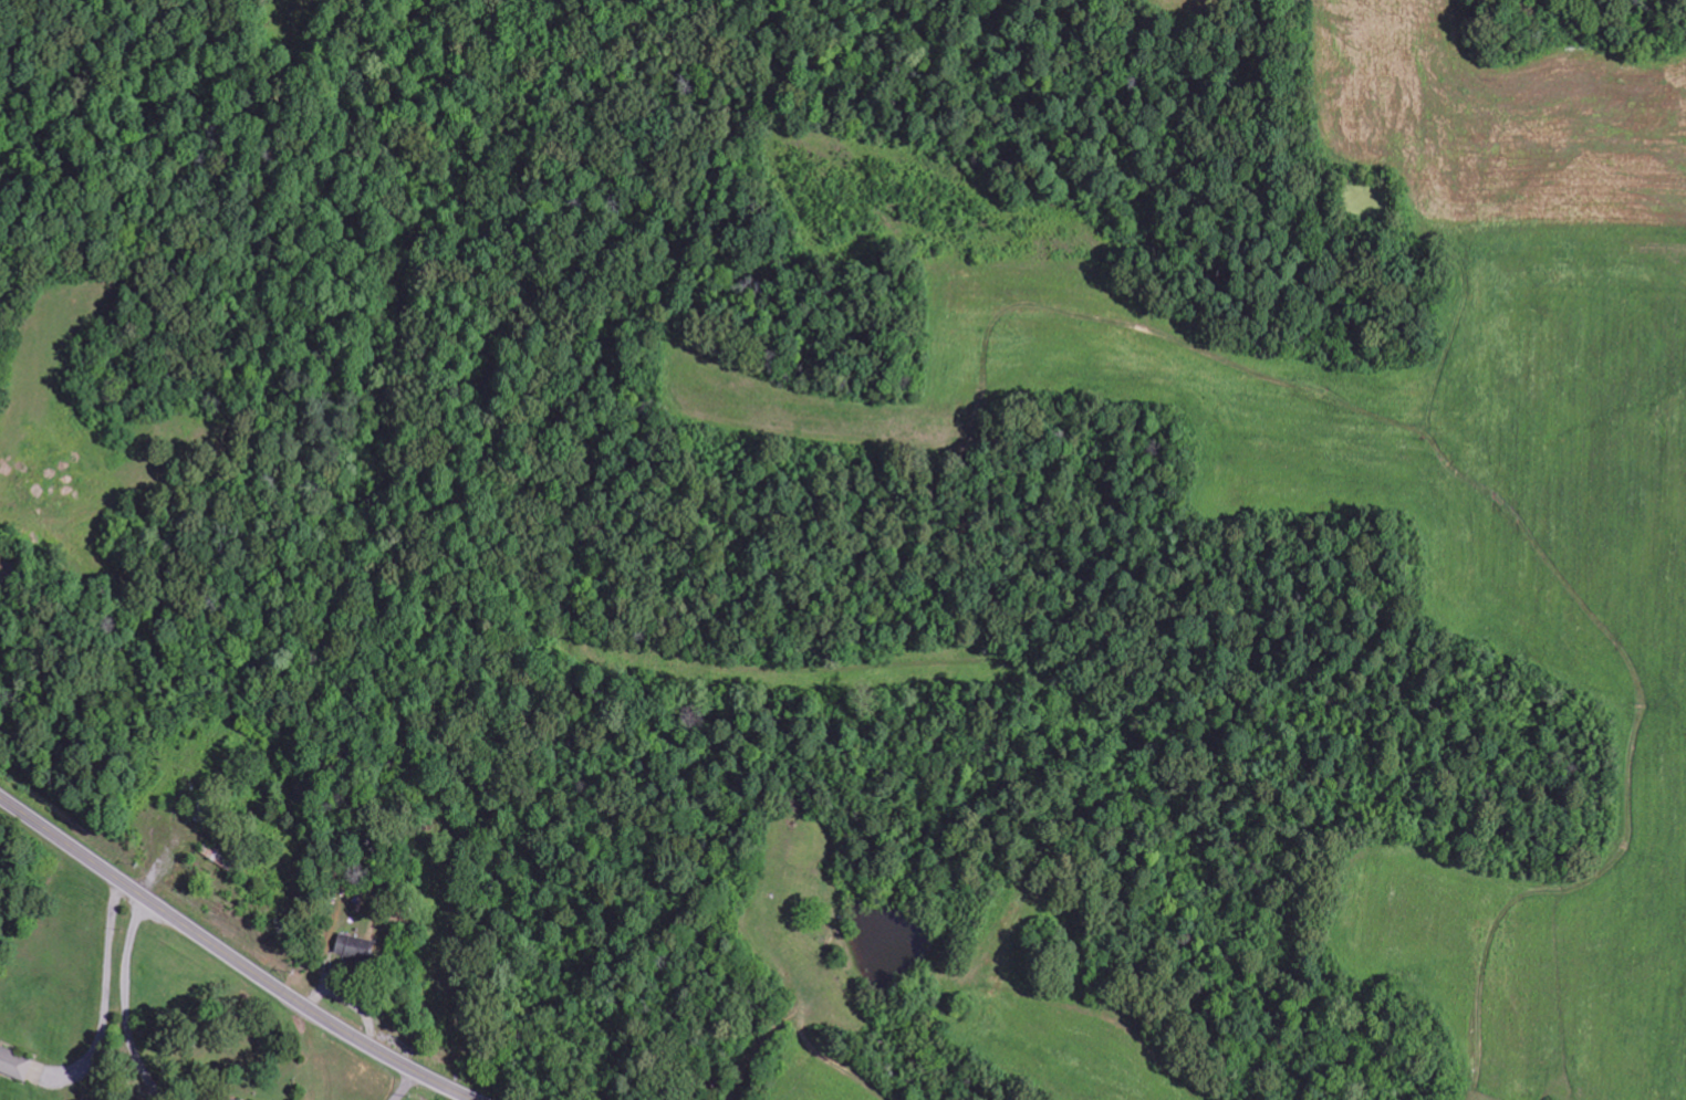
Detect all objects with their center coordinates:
building: (354, 947)
road: (233, 956)
building: (12, 1064)
road: (360, 1071)
building: (231, 1099)

